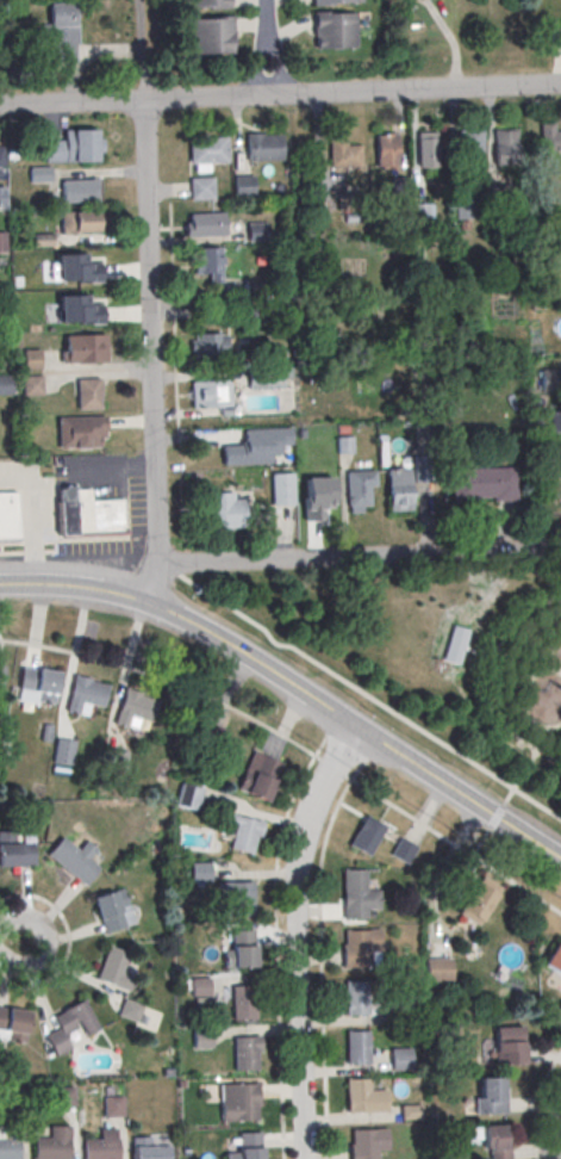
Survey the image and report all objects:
building: (331, 1)
building: (206, 4)
road: (264, 20)
building: (332, 29)
building: (62, 31)
building: (556, 32)
building: (210, 35)
road: (274, 66)
road: (258, 67)
road: (280, 92)
building: (550, 136)
building: (73, 145)
building: (261, 145)
building: (504, 145)
building: (205, 148)
building: (469, 148)
building: (426, 149)
building: (386, 151)
building: (342, 153)
building: (0, 155)
building: (38, 173)
building: (243, 185)
building: (200, 187)
building: (76, 190)
building: (1, 196)
building: (347, 200)
building: (79, 221)
building: (204, 223)
building: (256, 230)
building: (1, 241)
building: (208, 261)
building: (75, 264)
road: (147, 300)
building: (207, 343)
building: (83, 347)
building: (31, 358)
road: (175, 377)
building: (266, 377)
building: (550, 378)
building: (4, 384)
building: (31, 384)
building: (88, 392)
building: (208, 392)
building: (81, 430)
building: (255, 446)
building: (324, 454)
building: (482, 484)
building: (359, 486)
building: (282, 488)
building: (399, 490)
building: (225, 509)
building: (87, 513)
building: (8, 515)
road: (32, 516)
road: (344, 557)
road: (182, 559)
road: (174, 572)
road: (548, 625)
park: (434, 649)
road: (548, 657)
building: (1, 671)
road: (493, 678)
building: (37, 684)
road: (293, 688)
building: (85, 694)
road: (367, 698)
road: (522, 698)
building: (133, 707)
road: (522, 725)
building: (210, 735)
road: (294, 743)
building: (63, 750)
road: (524, 770)
building: (260, 775)
building: (187, 795)
building: (244, 833)
building: (366, 833)
building: (403, 849)
building: (14, 851)
building: (74, 860)
building: (199, 870)
building: (357, 895)
building: (237, 897)
building: (476, 903)
building: (113, 910)
road: (294, 936)
road: (11, 943)
road: (68, 943)
building: (360, 947)
building: (244, 952)
road: (275, 953)
building: (554, 957)
road: (319, 965)
building: (114, 968)
building: (438, 968)
building: (200, 987)
building: (356, 999)
building: (244, 1003)
building: (130, 1009)
building: (409, 1009)
building: (13, 1023)
building: (70, 1025)
building: (201, 1039)
building: (507, 1045)
building: (357, 1048)
building: (245, 1054)
building: (400, 1058)
building: (490, 1095)
building: (63, 1097)
building: (363, 1097)
building: (14, 1098)
building: (245, 1103)
building: (113, 1108)
building: (410, 1111)
road: (554, 1128)
building: (491, 1135)
building: (10, 1143)
building: (362, 1145)
building: (52, 1146)
building: (102, 1146)
building: (250, 1147)
building: (148, 1148)

